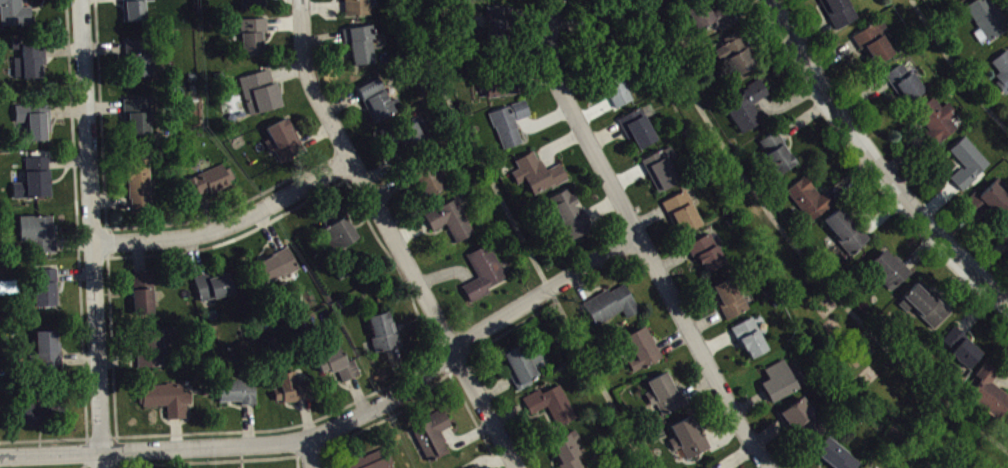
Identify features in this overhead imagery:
building: (254, 4)
building: (359, 9)
building: (137, 11)
building: (840, 14)
building: (16, 15)
building: (710, 21)
building: (988, 22)
building: (498, 25)
building: (603, 30)
building: (254, 40)
building: (877, 47)
building: (362, 48)
building: (737, 57)
building: (140, 62)
building: (32, 64)
road: (956, 69)
building: (1002, 76)
building: (907, 88)
building: (502, 90)
building: (262, 96)
building: (620, 96)
building: (377, 104)
building: (748, 110)
building: (140, 121)
road: (578, 121)
building: (939, 123)
building: (37, 125)
building: (511, 127)
building: (641, 130)
building: (409, 141)
building: (285, 144)
building: (779, 156)
road: (874, 162)
building: (969, 167)
building: (663, 173)
building: (539, 178)
building: (36, 183)
building: (211, 184)
road: (362, 184)
building: (430, 184)
building: (141, 188)
building: (810, 203)
building: (989, 205)
building: (684, 217)
building: (571, 218)
building: (453, 224)
road: (231, 226)
road: (97, 233)
building: (341, 233)
building: (847, 234)
building: (39, 237)
road: (525, 237)
building: (1006, 242)
road: (799, 246)
building: (709, 257)
building: (278, 269)
building: (890, 273)
building: (485, 276)
building: (47, 291)
building: (215, 291)
building: (145, 297)
building: (731, 302)
building: (613, 308)
building: (927, 309)
building: (384, 336)
building: (752, 342)
building: (160, 350)
building: (962, 351)
building: (49, 353)
road: (704, 353)
building: (643, 354)
building: (339, 368)
building: (522, 371)
building: (784, 385)
building: (292, 392)
building: (239, 395)
building: (988, 395)
building: (667, 397)
building: (168, 403)
building: (553, 410)
road: (486, 412)
building: (799, 417)
building: (37, 418)
road: (344, 429)
building: (434, 438)
building: (689, 442)
building: (568, 453)
road: (314, 457)
building: (835, 457)
building: (374, 464)

